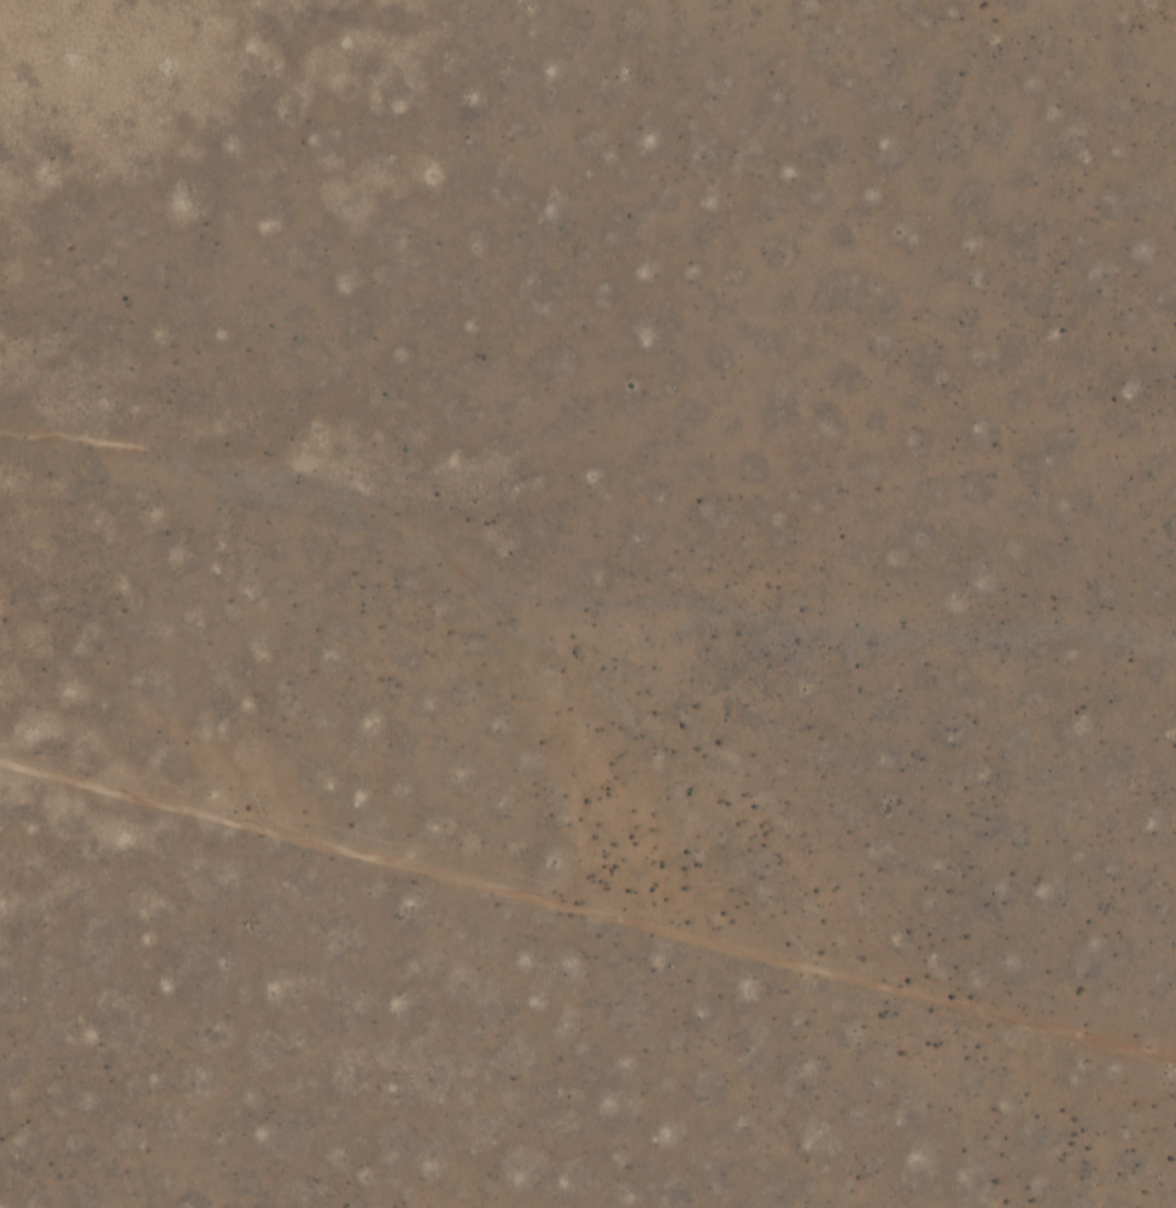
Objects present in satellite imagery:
road: (587, 914)

